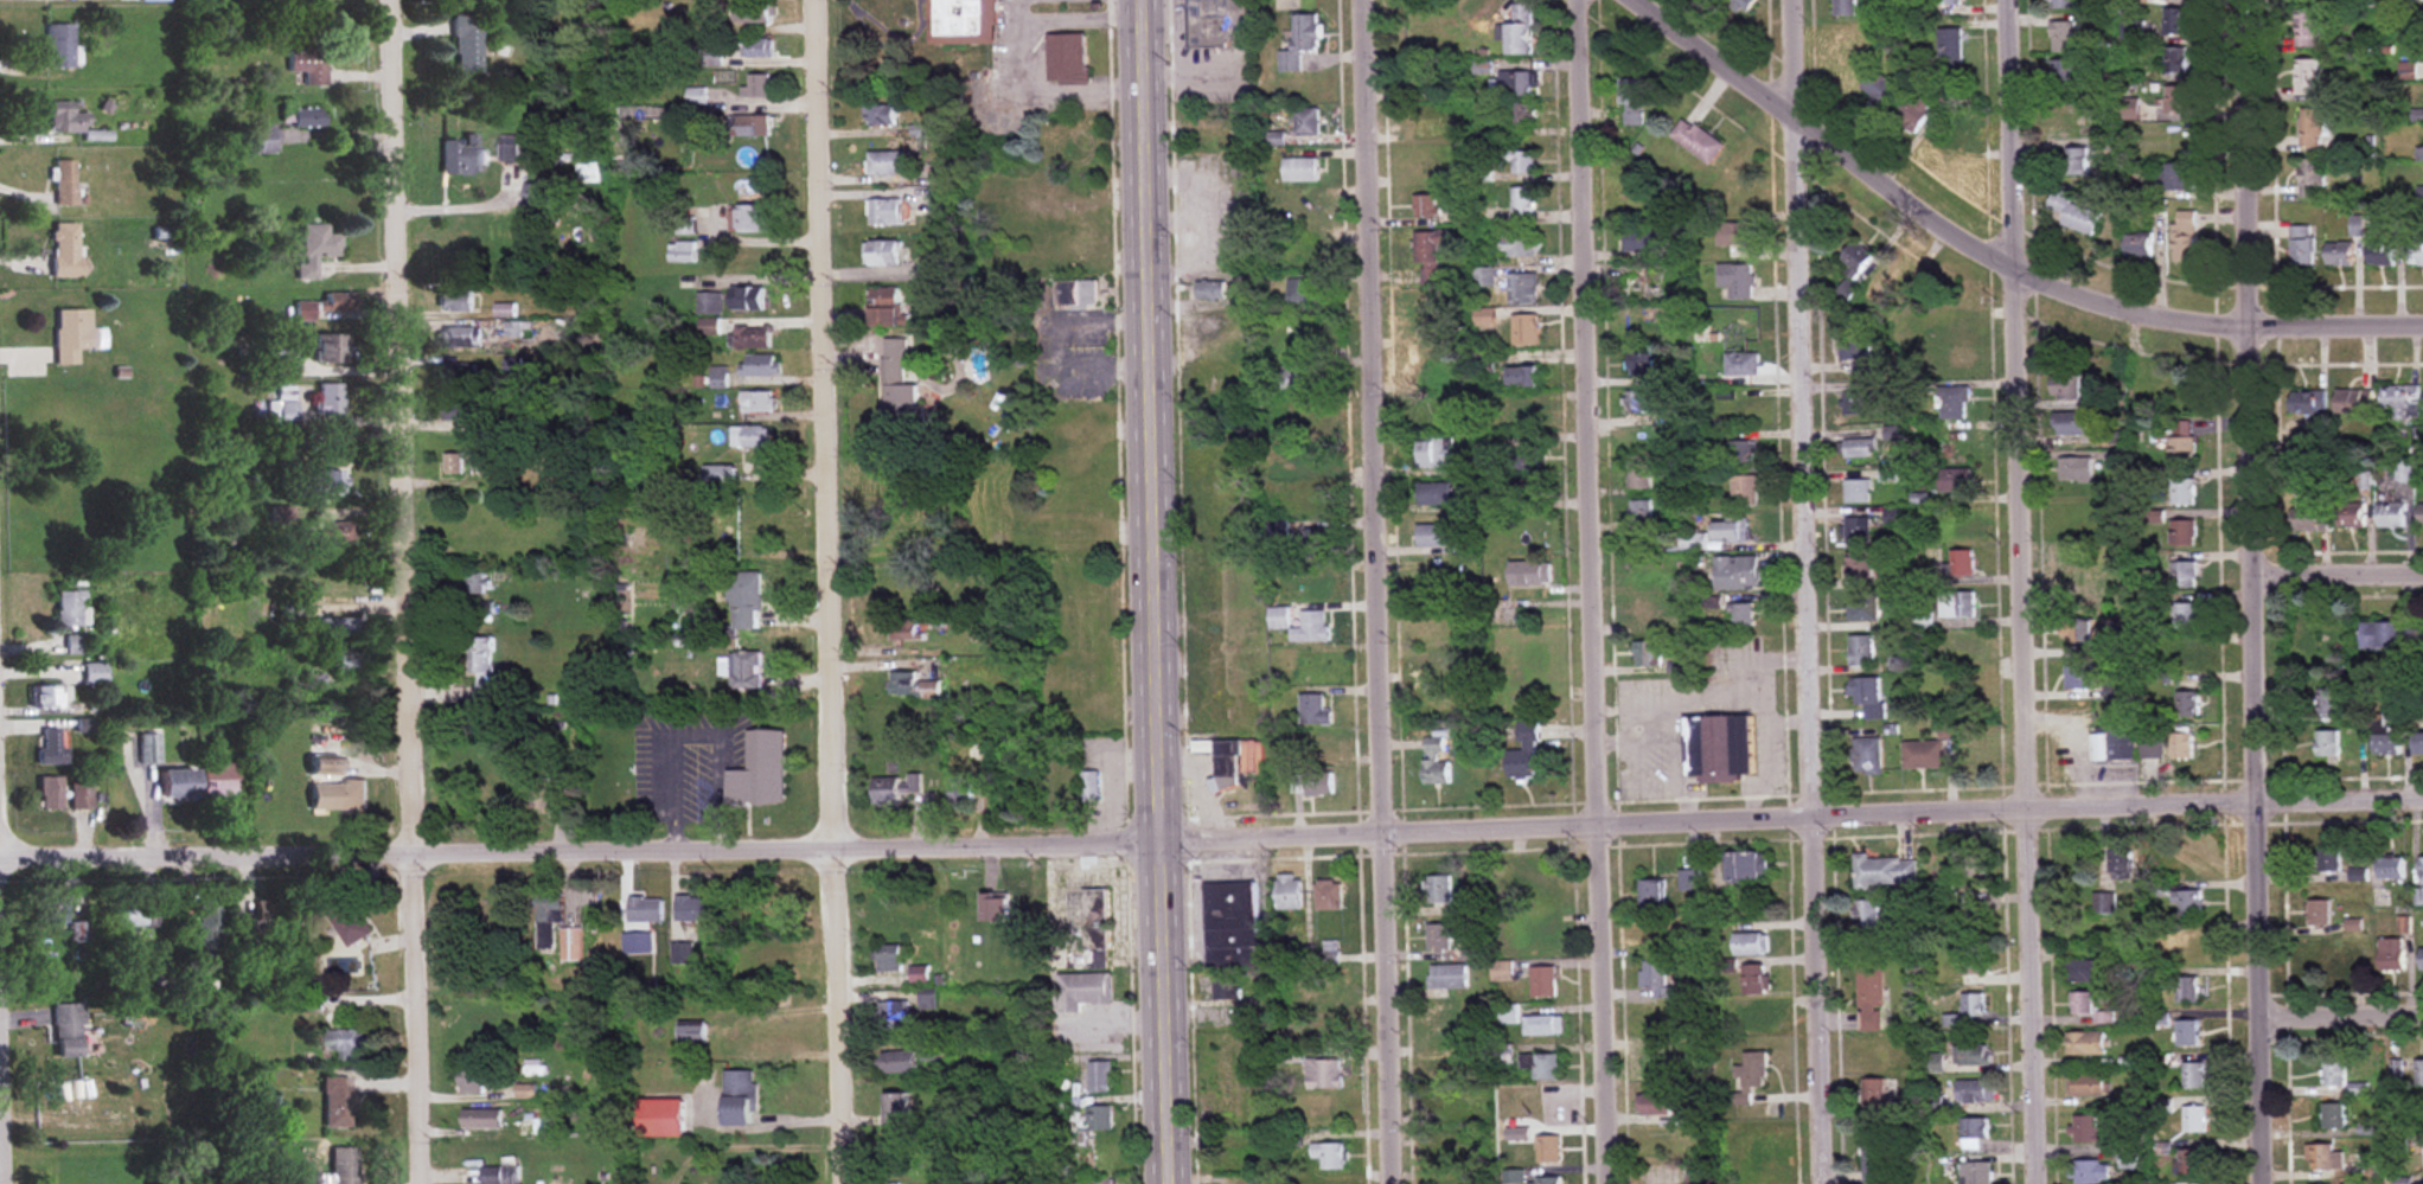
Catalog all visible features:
building: (1949, 2)
building: (1744, 4)
road: (1016, 7)
building: (1845, 7)
road: (1079, 12)
building: (754, 14)
building: (2175, 21)
building: (961, 23)
building: (1220, 23)
building: (2309, 28)
building: (1521, 30)
building: (2064, 36)
building: (1300, 43)
building: (2364, 43)
building: (467, 44)
building: (58, 46)
building: (1951, 47)
building: (756, 49)
building: (1067, 58)
building: (2175, 62)
building: (309, 64)
building: (2065, 71)
building: (2308, 77)
building: (1421, 78)
building: (1516, 84)
building: (756, 87)
road: (1047, 88)
building: (1880, 88)
building: (2178, 100)
building: (1632, 102)
building: (2129, 109)
building: (1912, 113)
building: (1527, 115)
building: (878, 116)
building: (306, 117)
building: (65, 119)
building: (1308, 122)
building: (1424, 123)
building: (2076, 123)
building: (753, 127)
building: (2312, 129)
building: (260, 140)
building: (1954, 140)
building: (1698, 141)
building: (509, 148)
building: (2421, 154)
building: (460, 158)
building: (2077, 161)
building: (1521, 162)
building: (886, 165)
building: (1302, 171)
building: (2181, 178)
building: (2312, 179)
building: (65, 183)
building: (537, 196)
building: (1635, 201)
building: (1738, 201)
building: (1523, 203)
building: (1426, 206)
building: (1308, 212)
building: (884, 213)
building: (2074, 213)
building: (748, 219)
building: (684, 226)
building: (2186, 237)
building: (1737, 239)
building: (1642, 241)
building: (1060, 244)
building: (1523, 247)
building: (2138, 247)
building: (2302, 247)
building: (315, 249)
building: (64, 251)
building: (682, 252)
building: (882, 254)
building: (2340, 254)
building: (2382, 254)
building: (2416, 255)
building: (1306, 257)
road: (1990, 258)
building: (1430, 260)
building: (1738, 280)
building: (1643, 287)
building: (1523, 289)
building: (1210, 290)
building: (1075, 293)
building: (1305, 296)
building: (747, 299)
building: (455, 301)
building: (335, 302)
building: (710, 303)
building: (883, 308)
building: (303, 311)
building: (504, 311)
building: (1431, 316)
building: (709, 327)
building: (1642, 328)
building: (1526, 329)
building: (513, 331)
building: (75, 335)
building: (461, 338)
building: (750, 338)
building: (330, 347)
building: (1856, 347)
building: (1960, 357)
building: (1642, 363)
building: (1743, 363)
building: (760, 365)
building: (286, 366)
building: (512, 367)
building: (1432, 370)
building: (1863, 370)
building: (458, 376)
building: (1523, 377)
building: (1299, 379)
building: (2066, 388)
building: (899, 389)
building: (328, 398)
building: (2178, 398)
building: (1644, 401)
building: (2403, 401)
building: (2354, 402)
building: (759, 403)
building: (1859, 403)
building: (1955, 403)
building: (2308, 403)
building: (282, 409)
building: (1741, 410)
building: (461, 411)
building: (1529, 417)
building: (1298, 418)
building: (2070, 423)
building: (750, 437)
building: (1642, 446)
building: (1861, 448)
building: (2182, 450)
building: (1744, 452)
building: (1434, 454)
building: (1311, 456)
building: (1528, 460)
building: (454, 466)
building: (2076, 469)
building: (720, 476)
building: (1642, 476)
building: (1957, 480)
building: (318, 481)
building: (1746, 489)
building: (1858, 491)
building: (1527, 492)
building: (2182, 492)
building: (1436, 494)
building: (1309, 504)
building: (1642, 510)
building: (494, 513)
building: (2313, 513)
building: (2351, 514)
building: (2392, 514)
building: (2422, 514)
building: (1961, 520)
building: (1731, 531)
building: (1858, 531)
building: (2185, 532)
building: (333, 533)
building: (1069, 533)
building: (1434, 536)
building: (1317, 540)
building: (1695, 542)
building: (1468, 544)
building: (513, 556)
building: (1960, 562)
building: (1861, 564)
building: (1469, 570)
building: (1530, 572)
building: (1738, 572)
building: (2184, 575)
road: (2340, 576)
building: (2074, 580)
building: (474, 583)
building: (1432, 583)
road: (408, 591)
road: (835, 591)
road: (1159, 591)
road: (1381, 591)
road: (1593, 591)
road: (1813, 591)
road: (2025, 591)
road: (2257, 591)
building: (746, 599)
building: (1958, 603)
building: (70, 608)
building: (1863, 608)
building: (1648, 612)
building: (1743, 614)
building: (2185, 615)
building: (1924, 617)
building: (1303, 625)
building: (339, 627)
building: (906, 631)
building: (2079, 632)
building: (2390, 634)
building: (1958, 639)
building: (75, 645)
building: (1862, 651)
building: (1648, 653)
building: (1432, 654)
building: (351, 661)
building: (481, 665)
building: (746, 668)
building: (1072, 670)
building: (94, 673)
building: (2079, 676)
building: (913, 686)
building: (1534, 689)
building: (1961, 692)
building: (1868, 696)
building: (47, 697)
building: (2329, 702)
building: (1251, 703)
building: (2188, 703)
building: (1315, 710)
building: (1946, 728)
building: (2419, 742)
building: (2128, 743)
building: (2328, 743)
building: (2387, 743)
building: (2182, 744)
building: (1321, 745)
building: (50, 748)
building: (148, 748)
building: (1720, 749)
building: (1524, 753)
building: (1924, 755)
building: (1867, 756)
building: (1974, 756)
building: (1434, 760)
building: (324, 762)
building: (1226, 767)
building: (760, 770)
building: (218, 780)
building: (175, 783)
building: (1312, 785)
building: (1089, 786)
building: (895, 788)
building: (960, 791)
building: (47, 792)
building: (79, 795)
building: (337, 795)
building: (541, 796)
road: (1211, 846)
building: (2329, 858)
building: (2123, 864)
building: (1747, 866)
building: (2391, 868)
building: (2422, 869)
building: (1885, 872)
building: (1689, 881)
building: (1981, 885)
building: (1528, 887)
building: (1438, 889)
building: (1289, 891)
building: (1328, 895)
building: (1651, 895)
building: (2188, 902)
building: (2104, 903)
building: (776, 904)
building: (1471, 905)
building: (995, 907)
building: (692, 908)
building: (646, 909)
building: (273, 910)
building: (50, 913)
building: (2320, 913)
building: (1871, 915)
building: (132, 917)
building: (548, 919)
building: (347, 920)
building: (1091, 921)
building: (206, 924)
building: (1235, 928)
building: (78, 932)
building: (1652, 932)
building: (1438, 936)
building: (1541, 939)
building: (571, 943)
building: (1751, 943)
building: (2191, 947)
building: (1330, 952)
building: (2392, 954)
building: (889, 958)
building: (2332, 960)
building: (2422, 960)
building: (1973, 964)
building: (920, 972)
building: (2084, 972)
building: (1447, 977)
building: (1756, 979)
building: (1656, 980)
road: (5, 981)
building: (1542, 981)
building: (1223, 990)
building: (2186, 990)
building: (1083, 991)
building: (1869, 998)
building: (313, 1006)
building: (2090, 1006)
building: (1968, 1010)
road: (2345, 1012)
building: (891, 1016)
building: (1753, 1023)
building: (1543, 1025)
building: (1441, 1026)
building: (1329, 1029)
building: (68, 1030)
building: (691, 1032)
building: (2187, 1033)
building: (2085, 1044)
building: (346, 1045)
building: (1969, 1055)
building: (899, 1063)
building: (1655, 1063)
building: (1541, 1065)
building: (1439, 1070)
building: (1324, 1074)
building: (2334, 1074)
building: (2418, 1074)
building: (1750, 1076)
building: (2193, 1076)
building: (1100, 1077)
building: (471, 1082)
building: (2090, 1086)
building: (1975, 1092)
building: (1874, 1093)
building: (739, 1099)
building: (335, 1102)
building: (85, 1103)
building: (1661, 1105)
building: (1507, 1106)
building: (1444, 1108)
building: (896, 1109)
building: (2334, 1115)
building: (661, 1118)
building: (1101, 1118)
building: (481, 1119)
building: (2194, 1120)
building: (2086, 1129)
building: (1974, 1133)
building: (1547, 1150)
building: (1450, 1153)
building: (1330, 1156)
building: (1875, 1157)
building: (2325, 1157)
building: (1759, 1158)
building: (2129, 1160)
building: (2189, 1161)
building: (1233, 1163)
building: (343, 1166)
building: (2090, 1172)
building: (1976, 1173)
building: (492, 1175)
building: (1699, 1178)
building: (1543, 1180)

